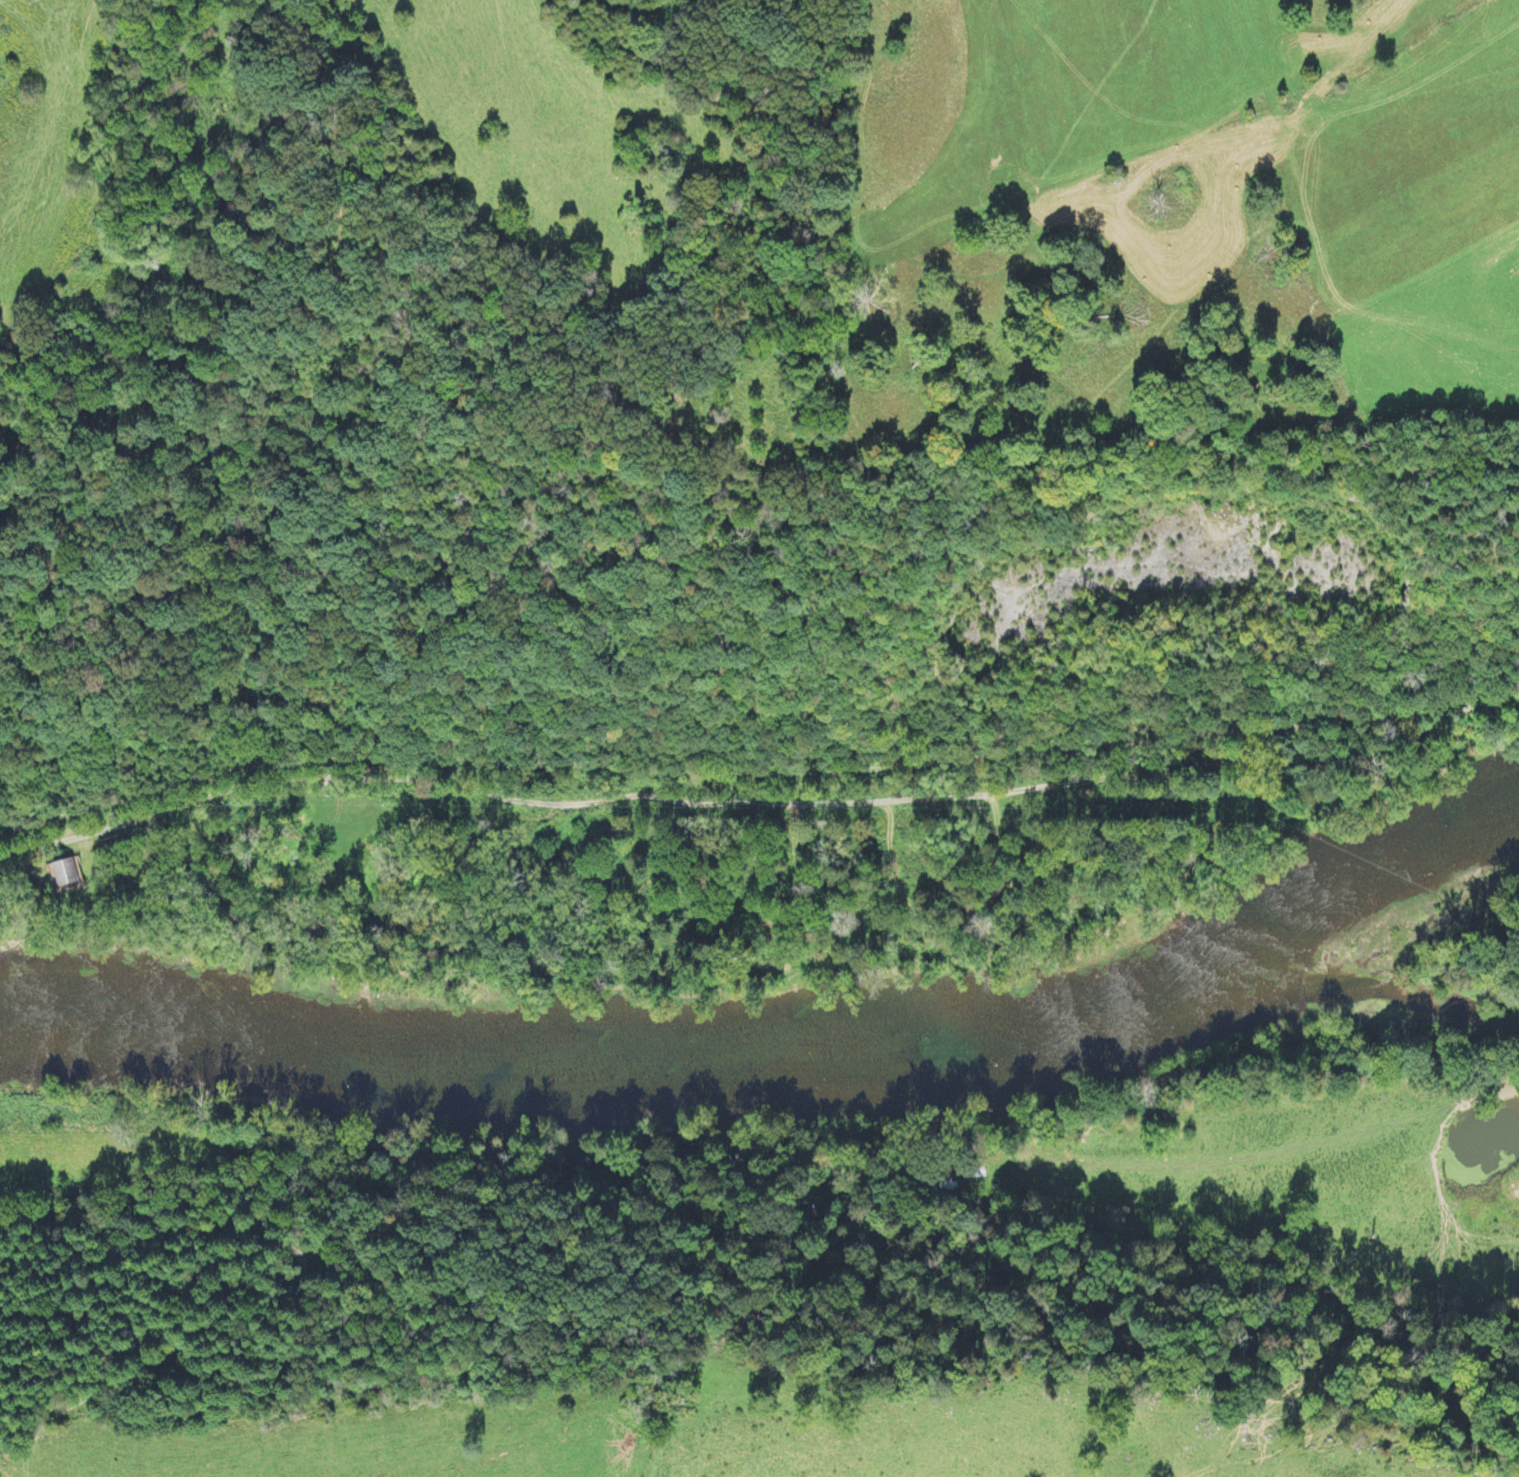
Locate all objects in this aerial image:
road: (757, 770)
road: (618, 794)
building: (63, 873)
river: (1348, 1005)
river: (784, 1058)

